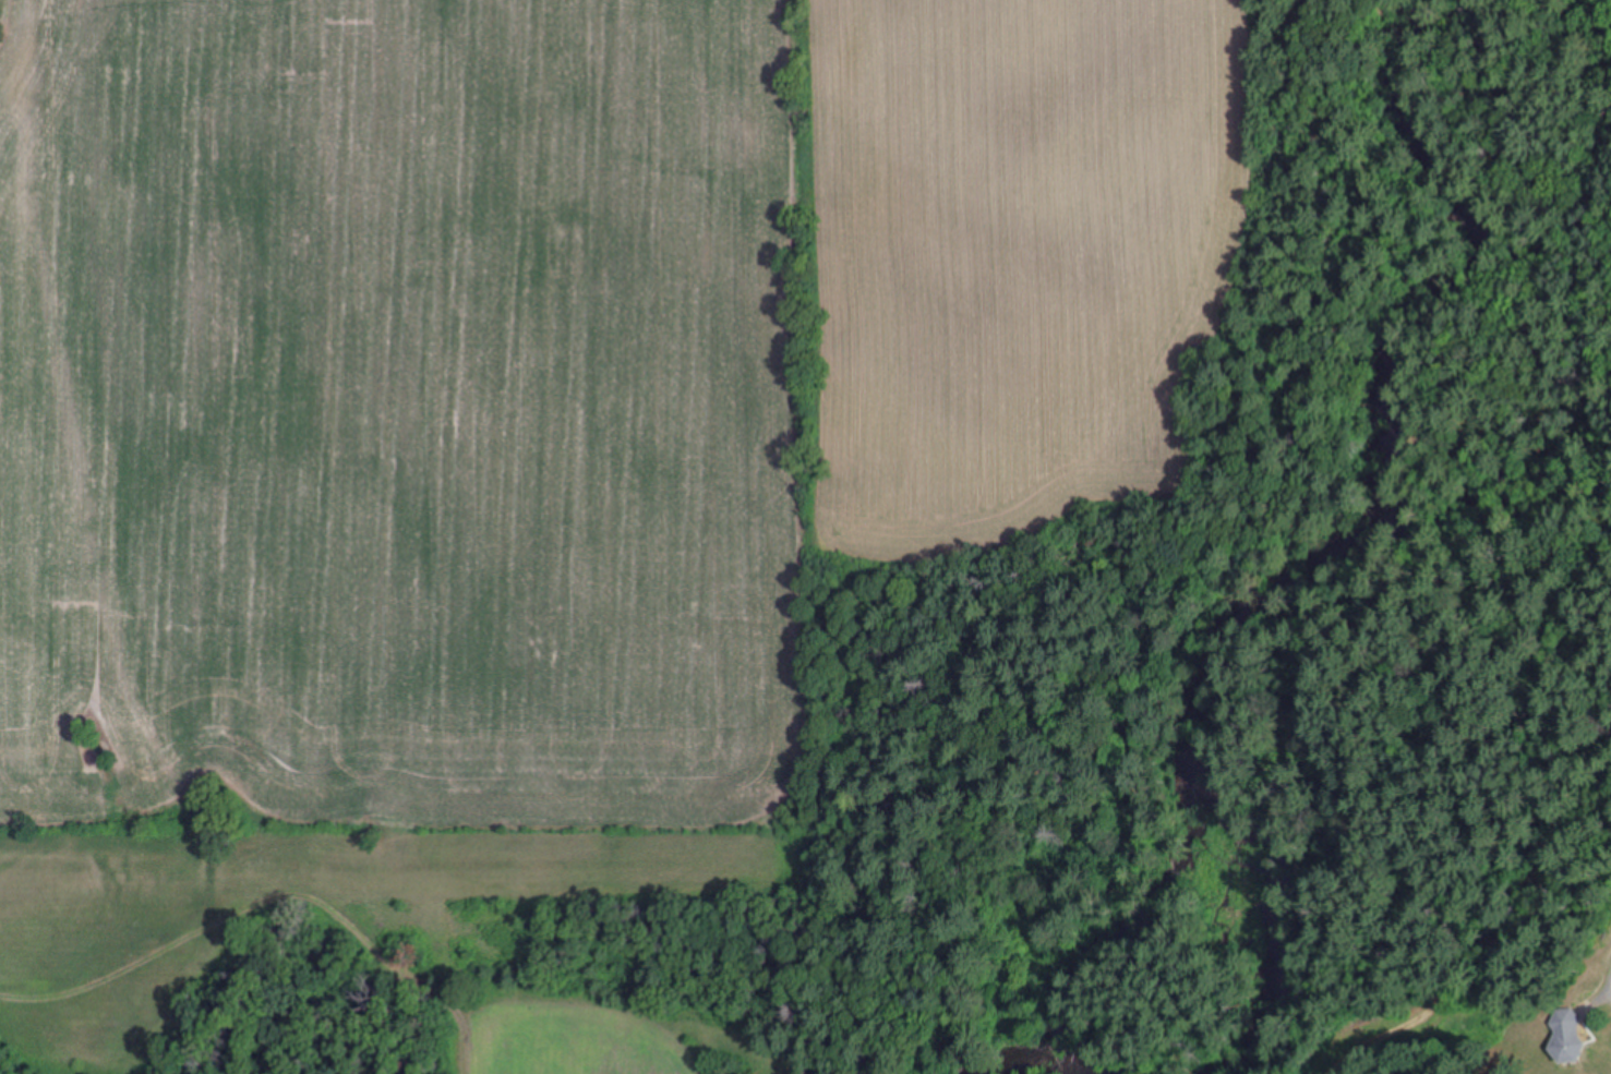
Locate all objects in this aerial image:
road: (1506, 870)
building: (1562, 1036)

